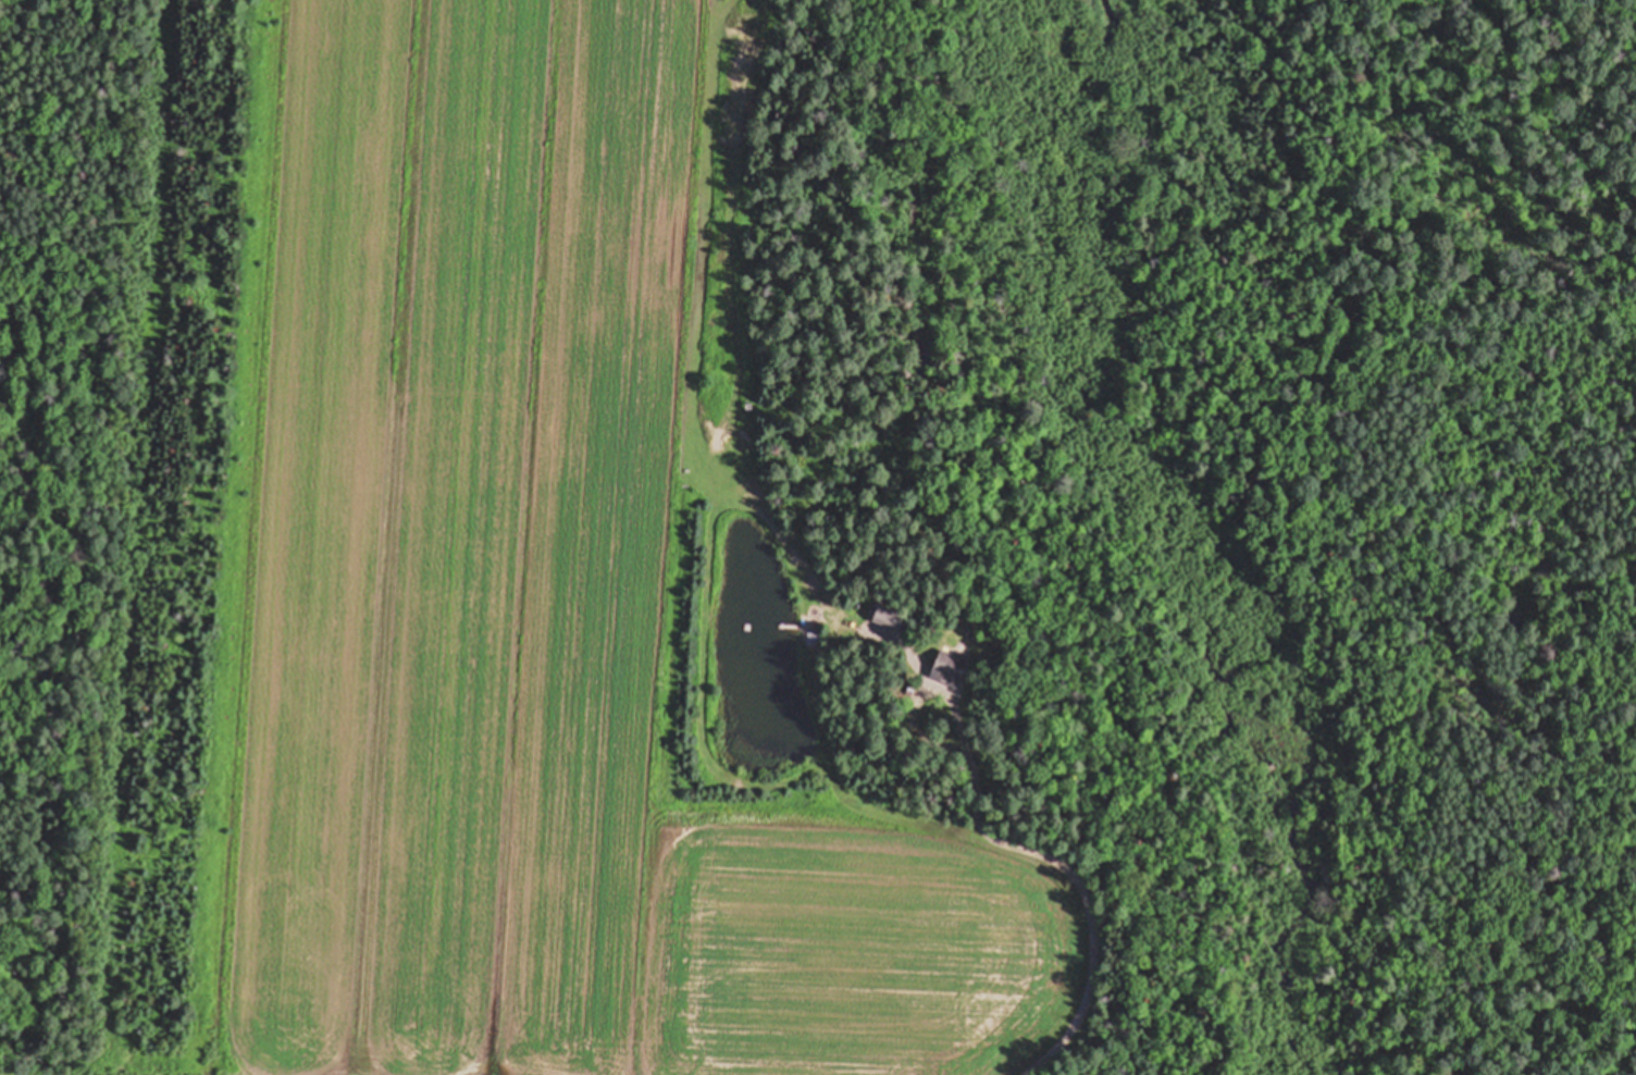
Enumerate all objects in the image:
building: (889, 617)
building: (949, 669)
road: (1028, 851)

